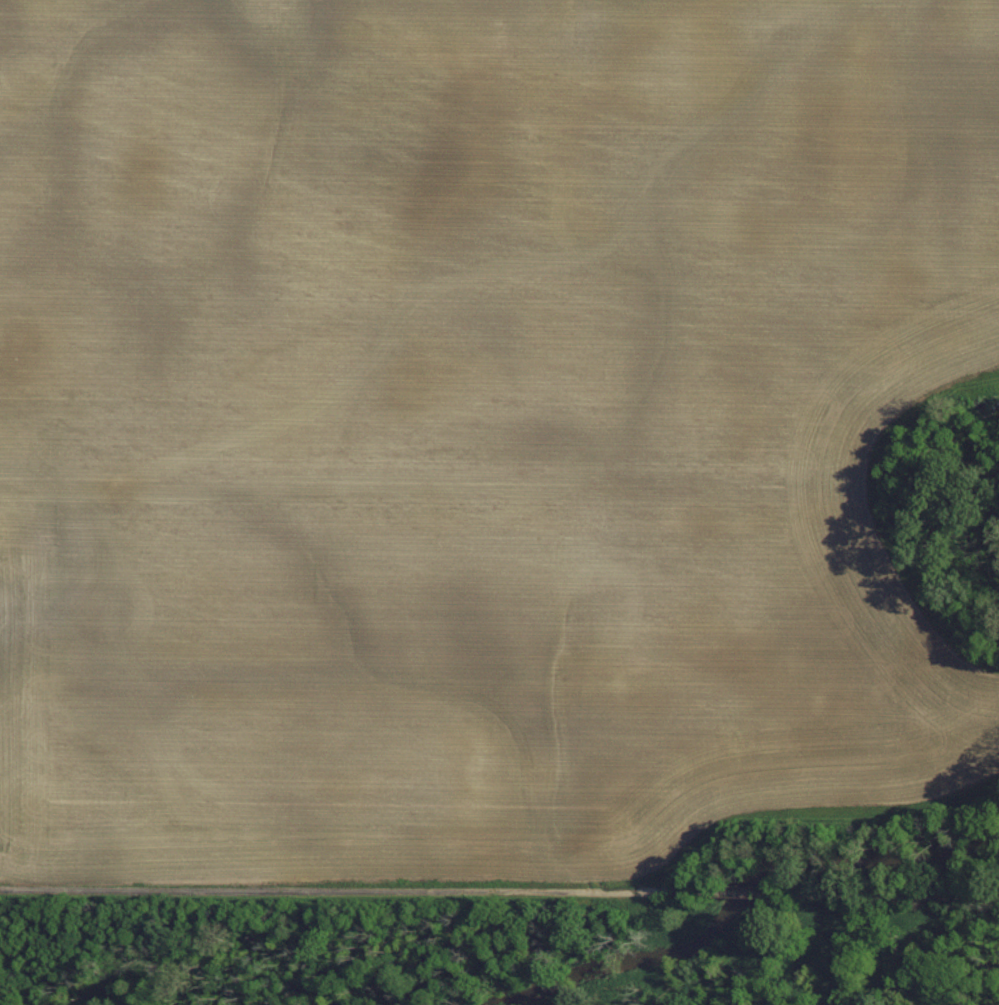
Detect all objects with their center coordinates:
road: (499, 890)

